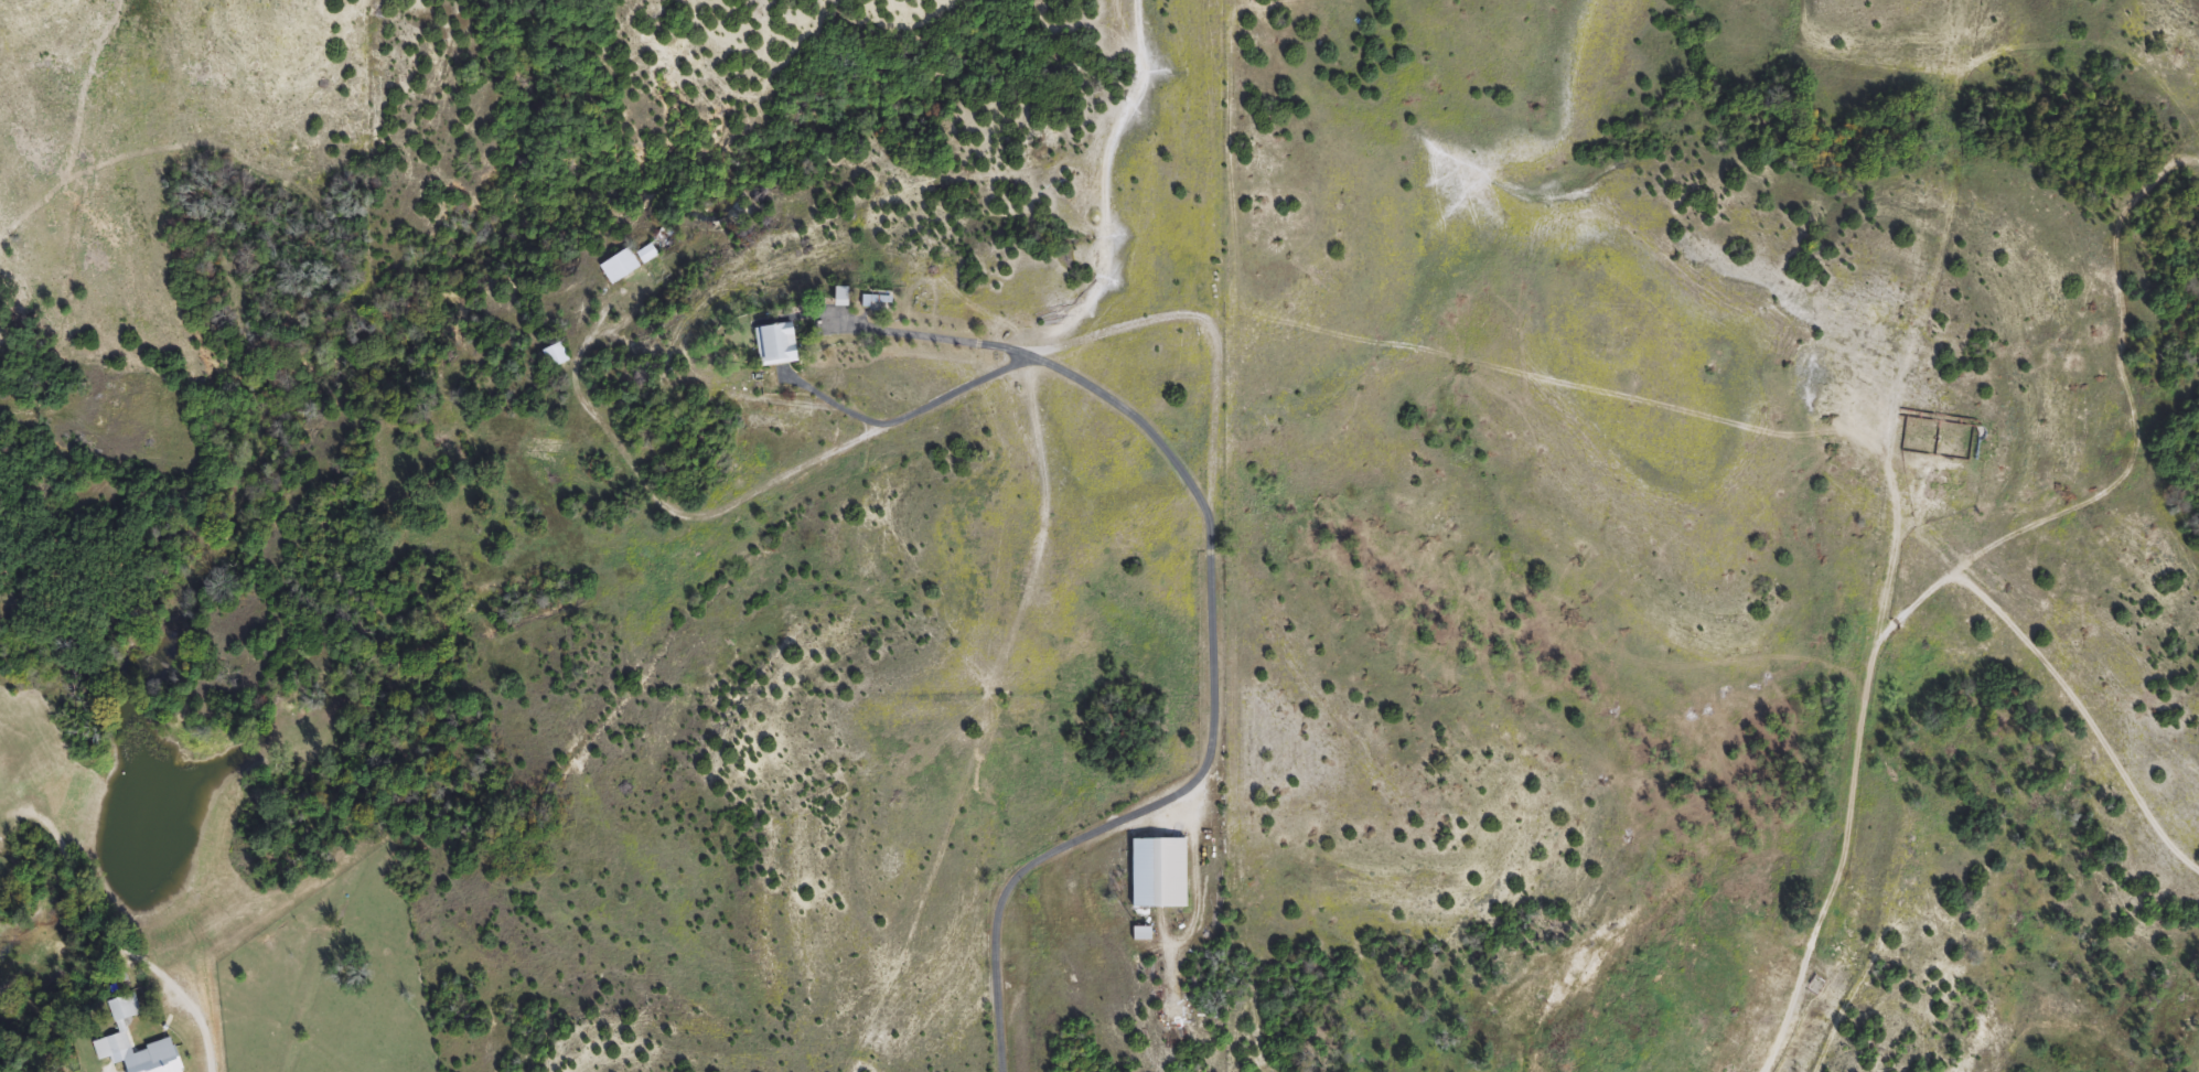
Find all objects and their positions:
building: (626, 265)
building: (880, 301)
building: (782, 346)
building: (557, 357)
road: (905, 416)
road: (1205, 639)
building: (1155, 872)
road: (1694, 908)
building: (120, 1029)
road: (212, 1070)

